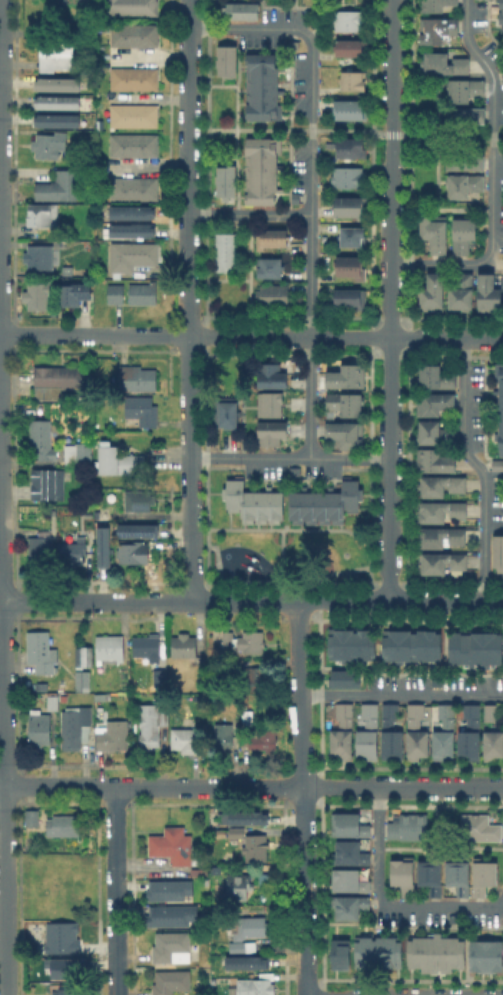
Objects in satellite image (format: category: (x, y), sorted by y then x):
building: (437, 3)
building: (130, 7)
building: (240, 9)
building: (499, 14)
building: (349, 19)
road: (0, 24)
building: (440, 27)
building: (132, 33)
building: (352, 47)
building: (56, 55)
building: (224, 59)
building: (445, 62)
building: (131, 76)
building: (354, 79)
building: (59, 83)
building: (259, 84)
building: (467, 87)
building: (58, 101)
building: (351, 109)
building: (136, 115)
building: (466, 116)
building: (58, 119)
road: (345, 130)
road: (187, 138)
building: (130, 143)
building: (51, 145)
building: (351, 146)
building: (468, 156)
building: (259, 169)
road: (492, 173)
building: (349, 177)
building: (224, 180)
building: (465, 184)
road: (310, 185)
building: (59, 186)
building: (130, 187)
building: (351, 206)
building: (128, 211)
road: (248, 215)
building: (42, 216)
building: (128, 229)
building: (436, 232)
building: (464, 233)
building: (353, 235)
building: (274, 237)
building: (226, 251)
building: (132, 255)
building: (42, 257)
building: (351, 265)
building: (270, 266)
building: (68, 270)
building: (463, 291)
building: (74, 292)
building: (143, 292)
building: (434, 292)
building: (490, 292)
building: (117, 293)
building: (272, 295)
building: (347, 295)
building: (38, 296)
road: (390, 300)
road: (188, 305)
road: (94, 334)
road: (345, 336)
road: (188, 363)
building: (271, 375)
building: (347, 376)
building: (436, 377)
building: (137, 378)
building: (58, 381)
building: (438, 402)
building: (346, 403)
building: (271, 404)
building: (499, 408)
building: (142, 410)
building: (227, 411)
building: (272, 432)
building: (437, 433)
building: (347, 434)
road: (189, 437)
building: (44, 441)
building: (78, 453)
road: (290, 458)
building: (438, 461)
building: (123, 463)
road: (477, 467)
building: (294, 472)
building: (49, 483)
building: (443, 485)
building: (139, 500)
building: (252, 504)
building: (324, 505)
building: (443, 511)
building: (138, 530)
building: (443, 536)
road: (191, 542)
building: (103, 546)
building: (41, 550)
building: (497, 551)
building: (71, 553)
building: (134, 554)
park: (291, 559)
building: (443, 562)
road: (80, 601)
road: (228, 601)
road: (399, 602)
building: (247, 642)
building: (349, 642)
building: (409, 643)
building: (185, 647)
building: (473, 647)
building: (111, 649)
building: (43, 654)
building: (152, 654)
building: (85, 657)
building: (248, 675)
building: (343, 676)
building: (83, 680)
road: (401, 695)
building: (100, 697)
building: (52, 703)
building: (491, 713)
building: (248, 718)
building: (152, 725)
building: (76, 727)
building: (40, 728)
road: (3, 731)
building: (344, 733)
building: (369, 733)
building: (392, 733)
building: (417, 733)
building: (472, 733)
building: (446, 735)
building: (225, 736)
building: (113, 737)
building: (187, 737)
building: (259, 739)
building: (493, 746)
road: (2, 785)
road: (81, 785)
road: (231, 785)
road: (403, 787)
road: (304, 797)
building: (33, 818)
building: (249, 818)
building: (66, 826)
building: (352, 826)
building: (409, 828)
building: (480, 829)
building: (239, 832)
building: (175, 847)
building: (258, 848)
building: (352, 854)
building: (197, 871)
building: (405, 877)
building: (433, 877)
building: (459, 877)
building: (485, 877)
building: (351, 882)
building: (238, 888)
building: (166, 889)
road: (115, 890)
road: (385, 902)
building: (351, 909)
building: (168, 915)
building: (252, 928)
building: (50, 937)
building: (172, 947)
building: (239, 948)
building: (376, 950)
building: (433, 951)
building: (338, 952)
building: (483, 954)
building: (248, 963)
building: (66, 969)
building: (171, 981)
building: (256, 987)
building: (67, 989)

